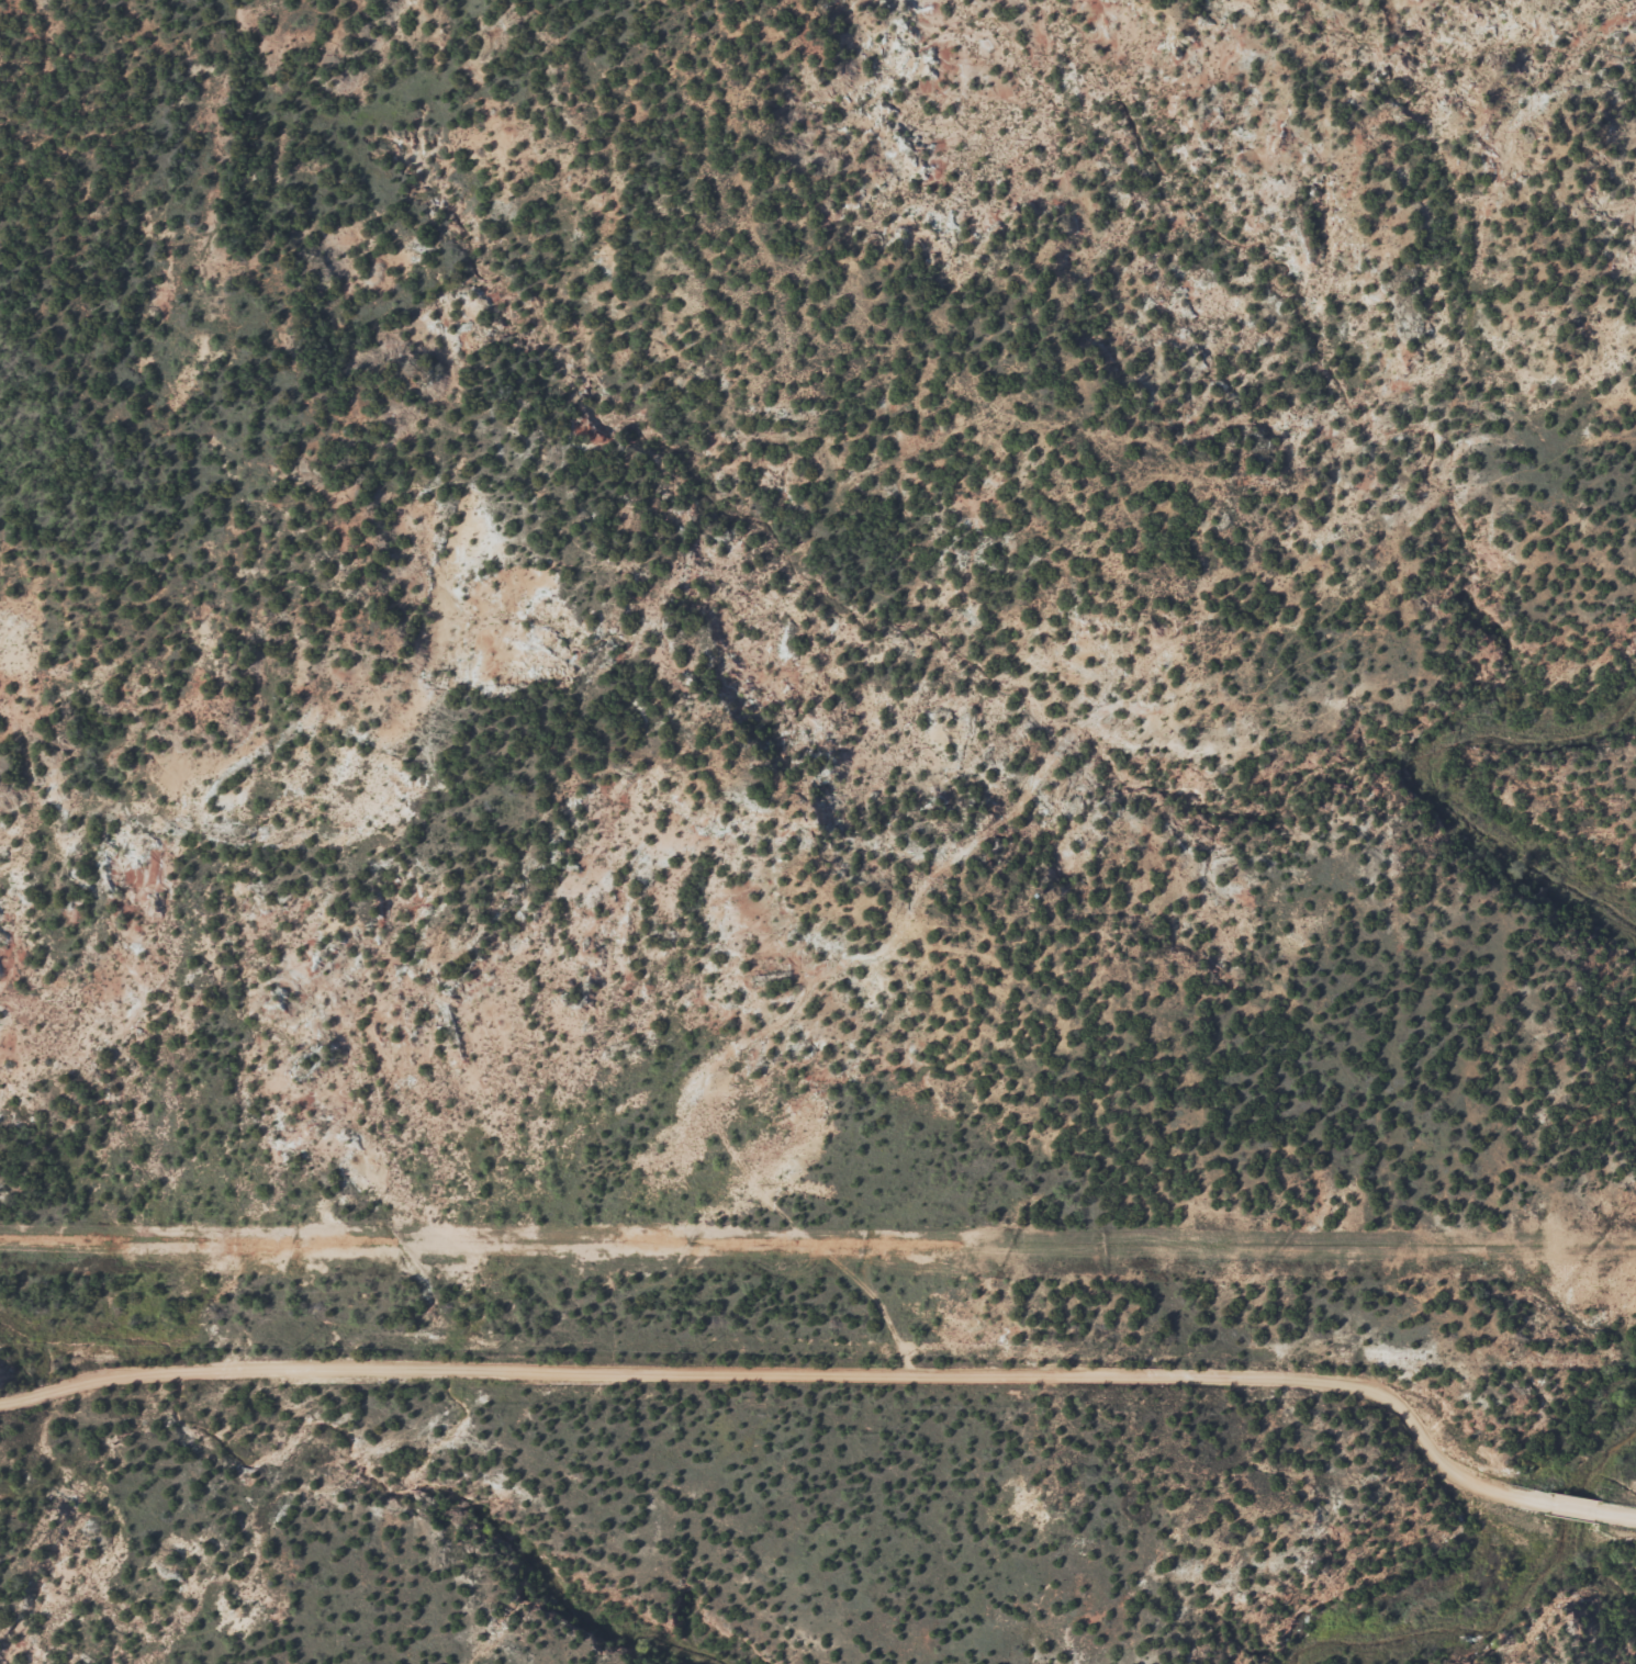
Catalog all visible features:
road: (838, 1371)
park: (726, 1539)

